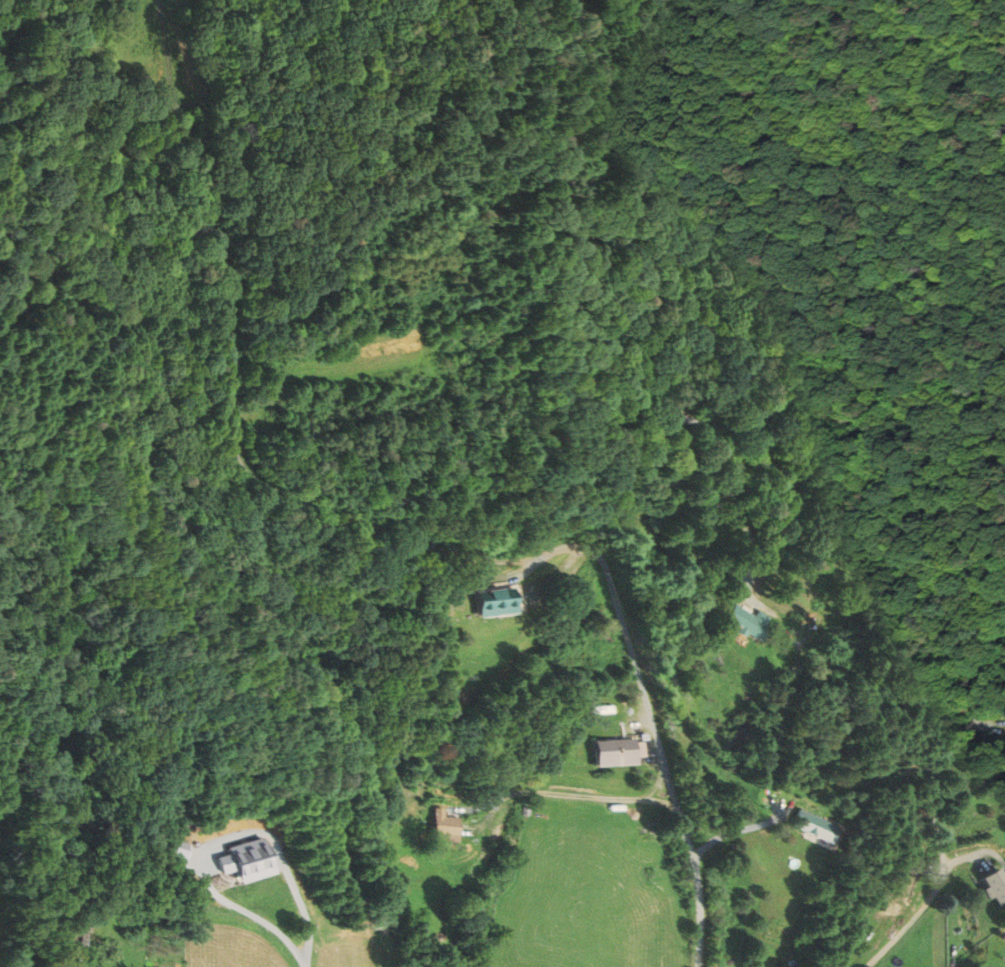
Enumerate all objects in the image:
building: (503, 603)
road: (636, 662)
building: (615, 752)
road: (572, 793)
building: (448, 826)
building: (812, 826)
building: (994, 884)
road: (934, 894)

